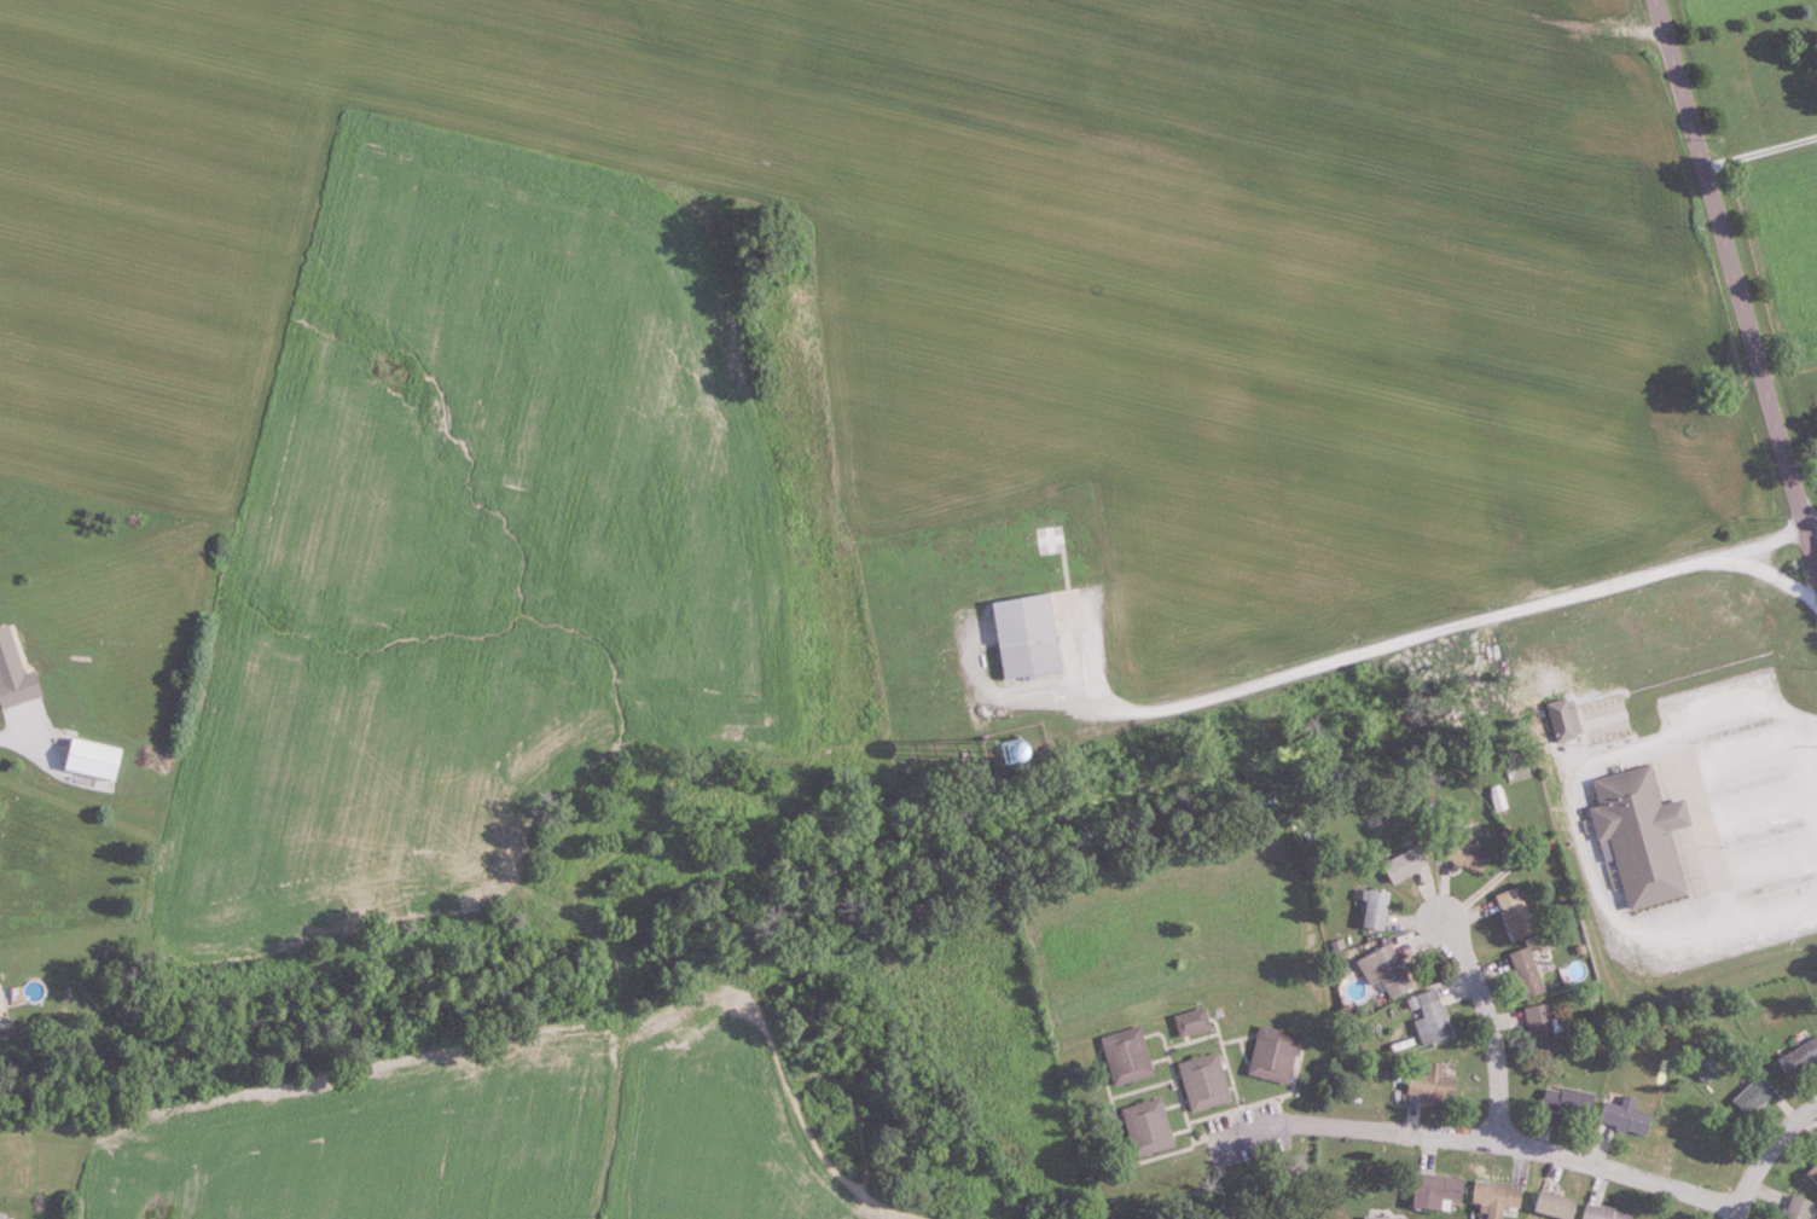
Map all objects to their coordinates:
road: (1758, 149)
road: (1734, 283)
helipad: (1050, 536)
road: (1813, 545)
building: (1026, 632)
road: (1433, 632)
road: (14, 743)
road: (1812, 748)
building: (97, 759)
building: (1638, 835)
building: (1464, 852)
building: (1404, 861)
building: (1371, 910)
building: (1513, 913)
building: (1383, 970)
building: (1525, 973)
building: (1430, 1018)
building: (1190, 1022)
road: (1490, 1027)
building: (1544, 1027)
building: (0, 1039)
building: (1271, 1055)
building: (1126, 1056)
building: (1799, 1058)
building: (1203, 1082)
building: (1432, 1085)
building: (1752, 1096)
building: (1566, 1102)
building: (1624, 1115)
building: (1146, 1127)
road: (1360, 1128)
building: (1690, 1137)
road: (1769, 1156)
road: (1621, 1172)
building: (1812, 1173)
building: (1433, 1192)
building: (1493, 1197)
building: (1552, 1205)
building: (1796, 1208)
building: (1600, 1212)
building: (4, 1214)
building: (1383, 1218)

